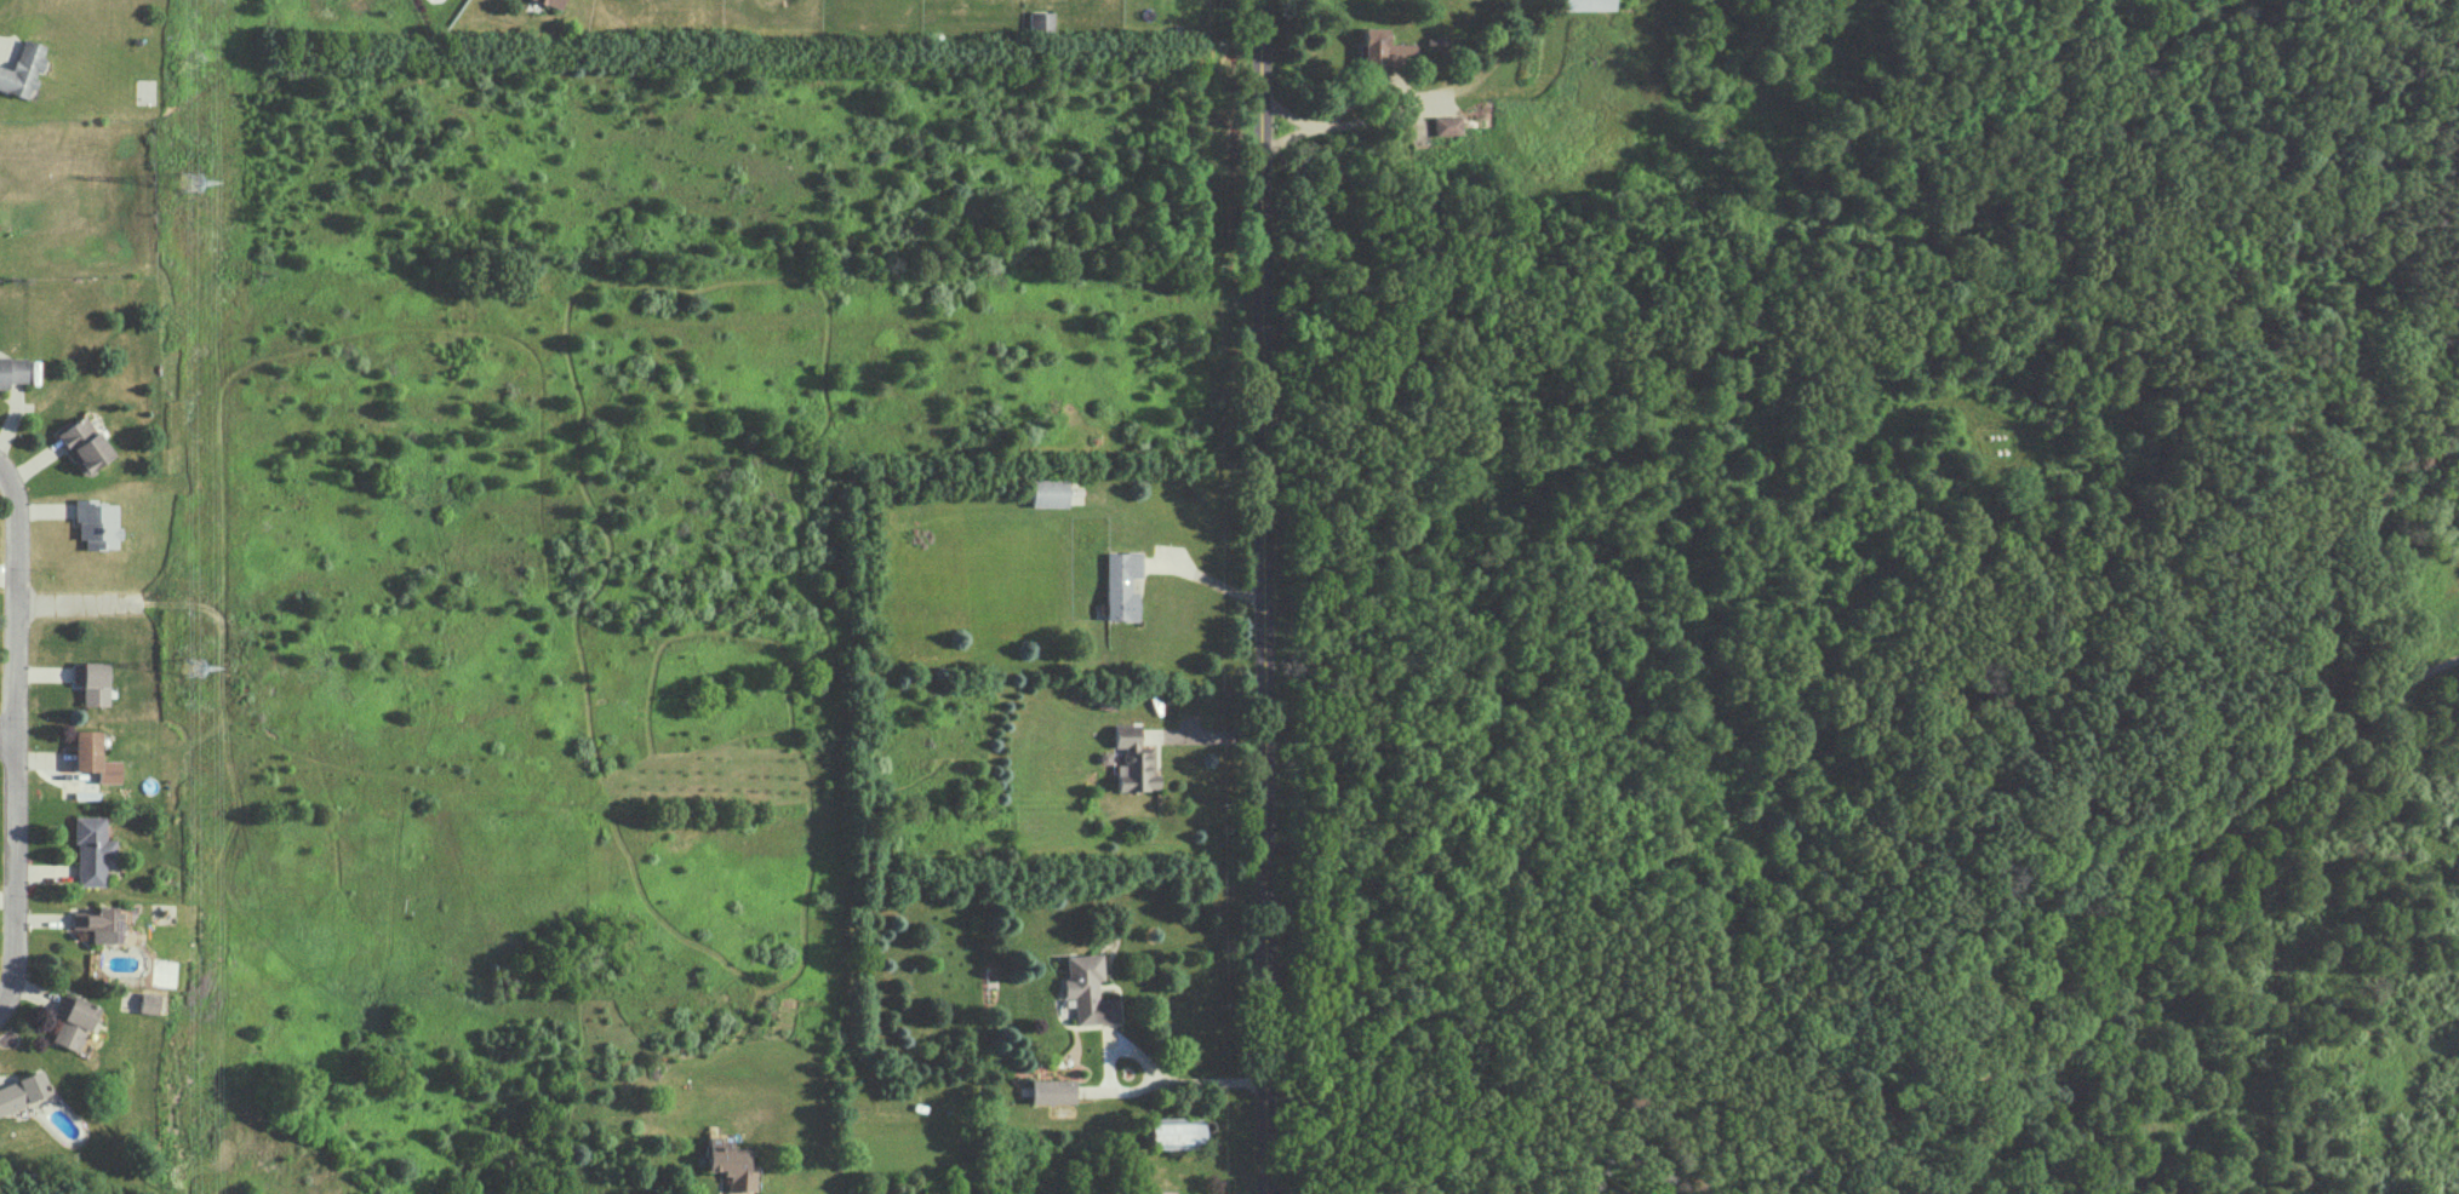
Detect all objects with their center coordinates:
building: (551, 2)
building: (1588, 4)
building: (1040, 23)
building: (1384, 48)
building: (22, 69)
road: (1403, 87)
road: (1327, 121)
building: (1446, 125)
power tower: (191, 185)
building: (12, 369)
building: (84, 443)
building: (1047, 492)
building: (97, 523)
building: (1119, 584)
road: (1269, 597)
road: (93, 598)
power tower: (191, 666)
building: (96, 683)
road: (11, 731)
road: (22, 733)
road: (1206, 735)
building: (93, 756)
building: (1133, 760)
building: (91, 850)
building: (98, 923)
road: (2140, 936)
building: (1086, 991)
building: (148, 1003)
building: (73, 1021)
building: (87, 1043)
road: (1193, 1081)
building: (1048, 1090)
building: (23, 1091)
building: (1170, 1132)
building: (728, 1163)

